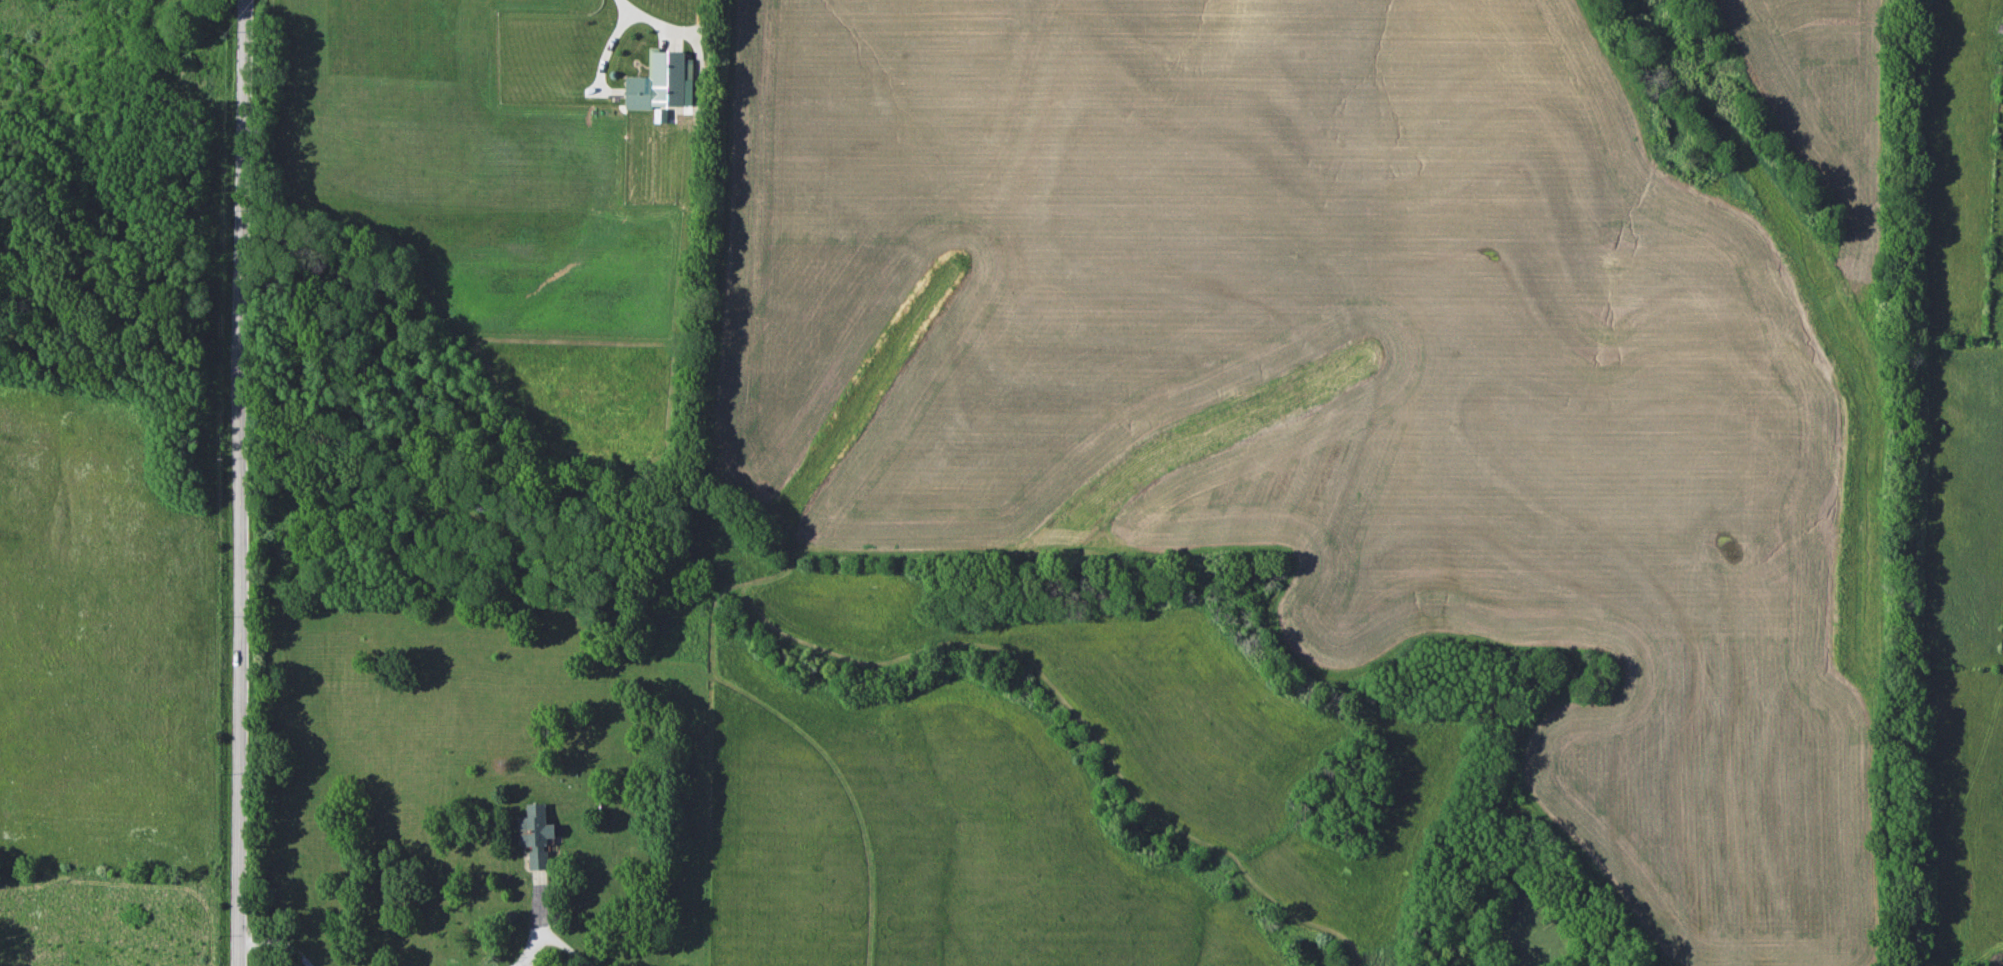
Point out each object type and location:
road: (620, 24)
crop: (1826, 104)
park: (123, 479)
road: (245, 482)
building: (535, 835)
road: (277, 943)
road: (567, 951)
road: (525, 953)

